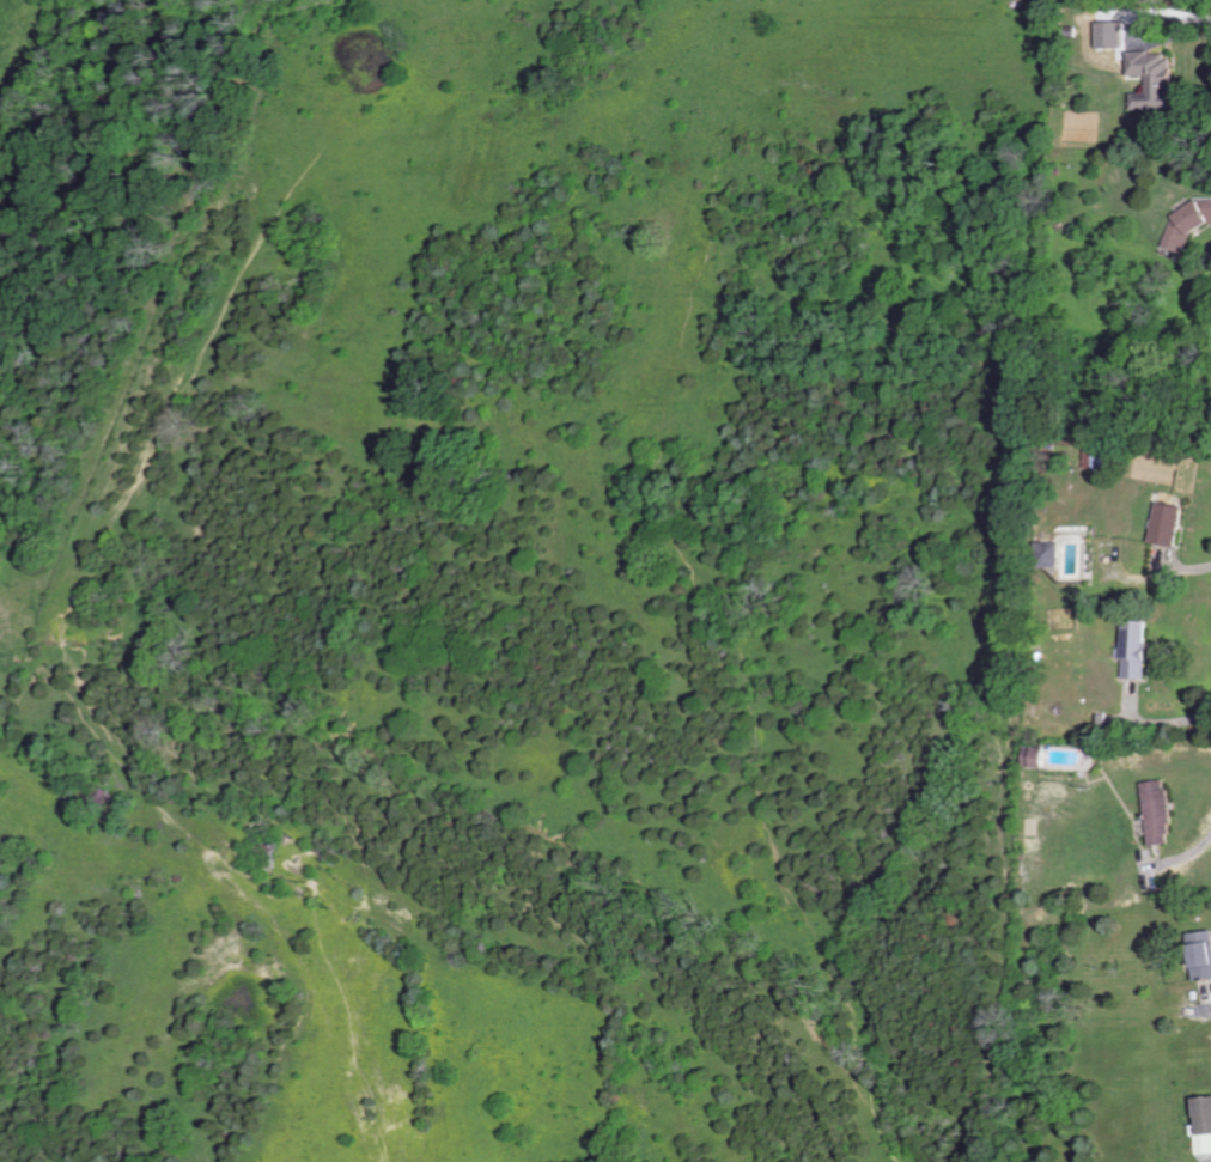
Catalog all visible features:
building: (1160, 80)
building: (1170, 521)
building: (1059, 556)
building: (1140, 650)
building: (1040, 758)
building: (1163, 813)
building: (1206, 955)
building: (1206, 1128)
road: (1162, 1134)

